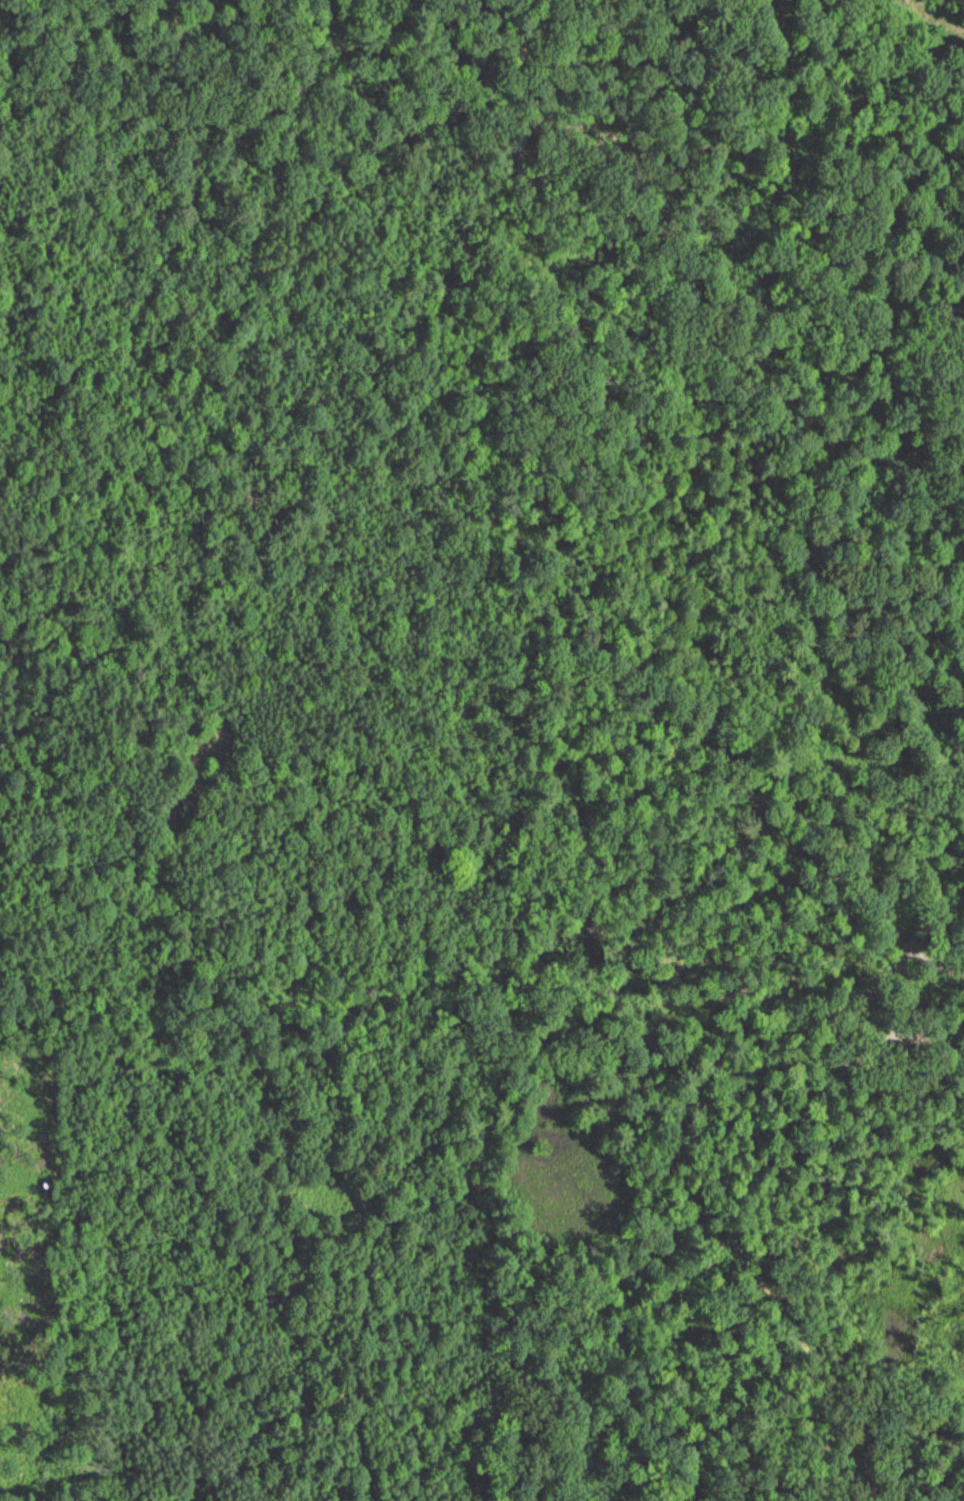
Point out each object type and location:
road: (791, 542)

